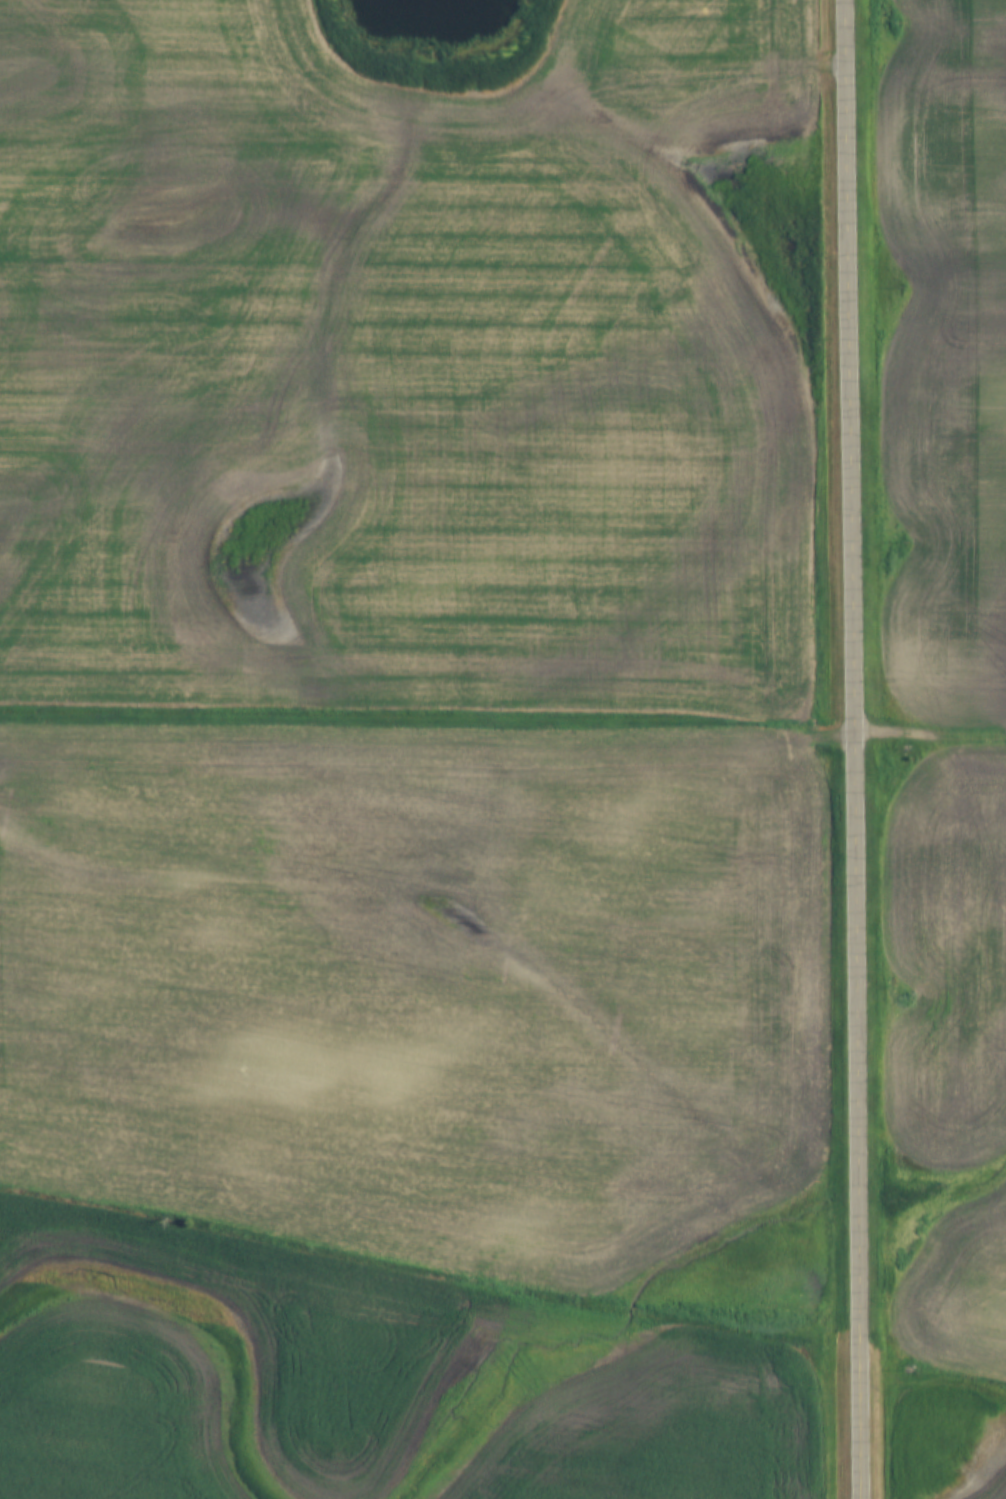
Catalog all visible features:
road: (860, 749)

